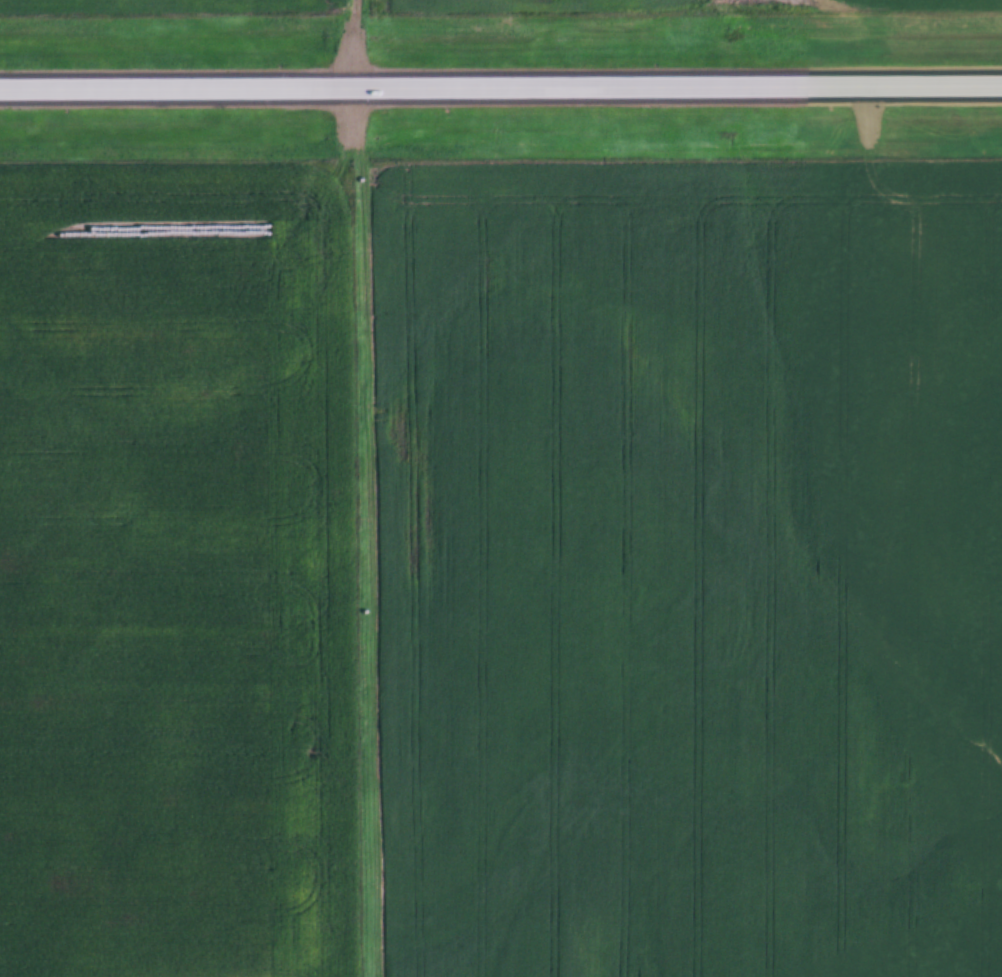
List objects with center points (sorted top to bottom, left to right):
road: (354, 43)
road: (501, 86)

